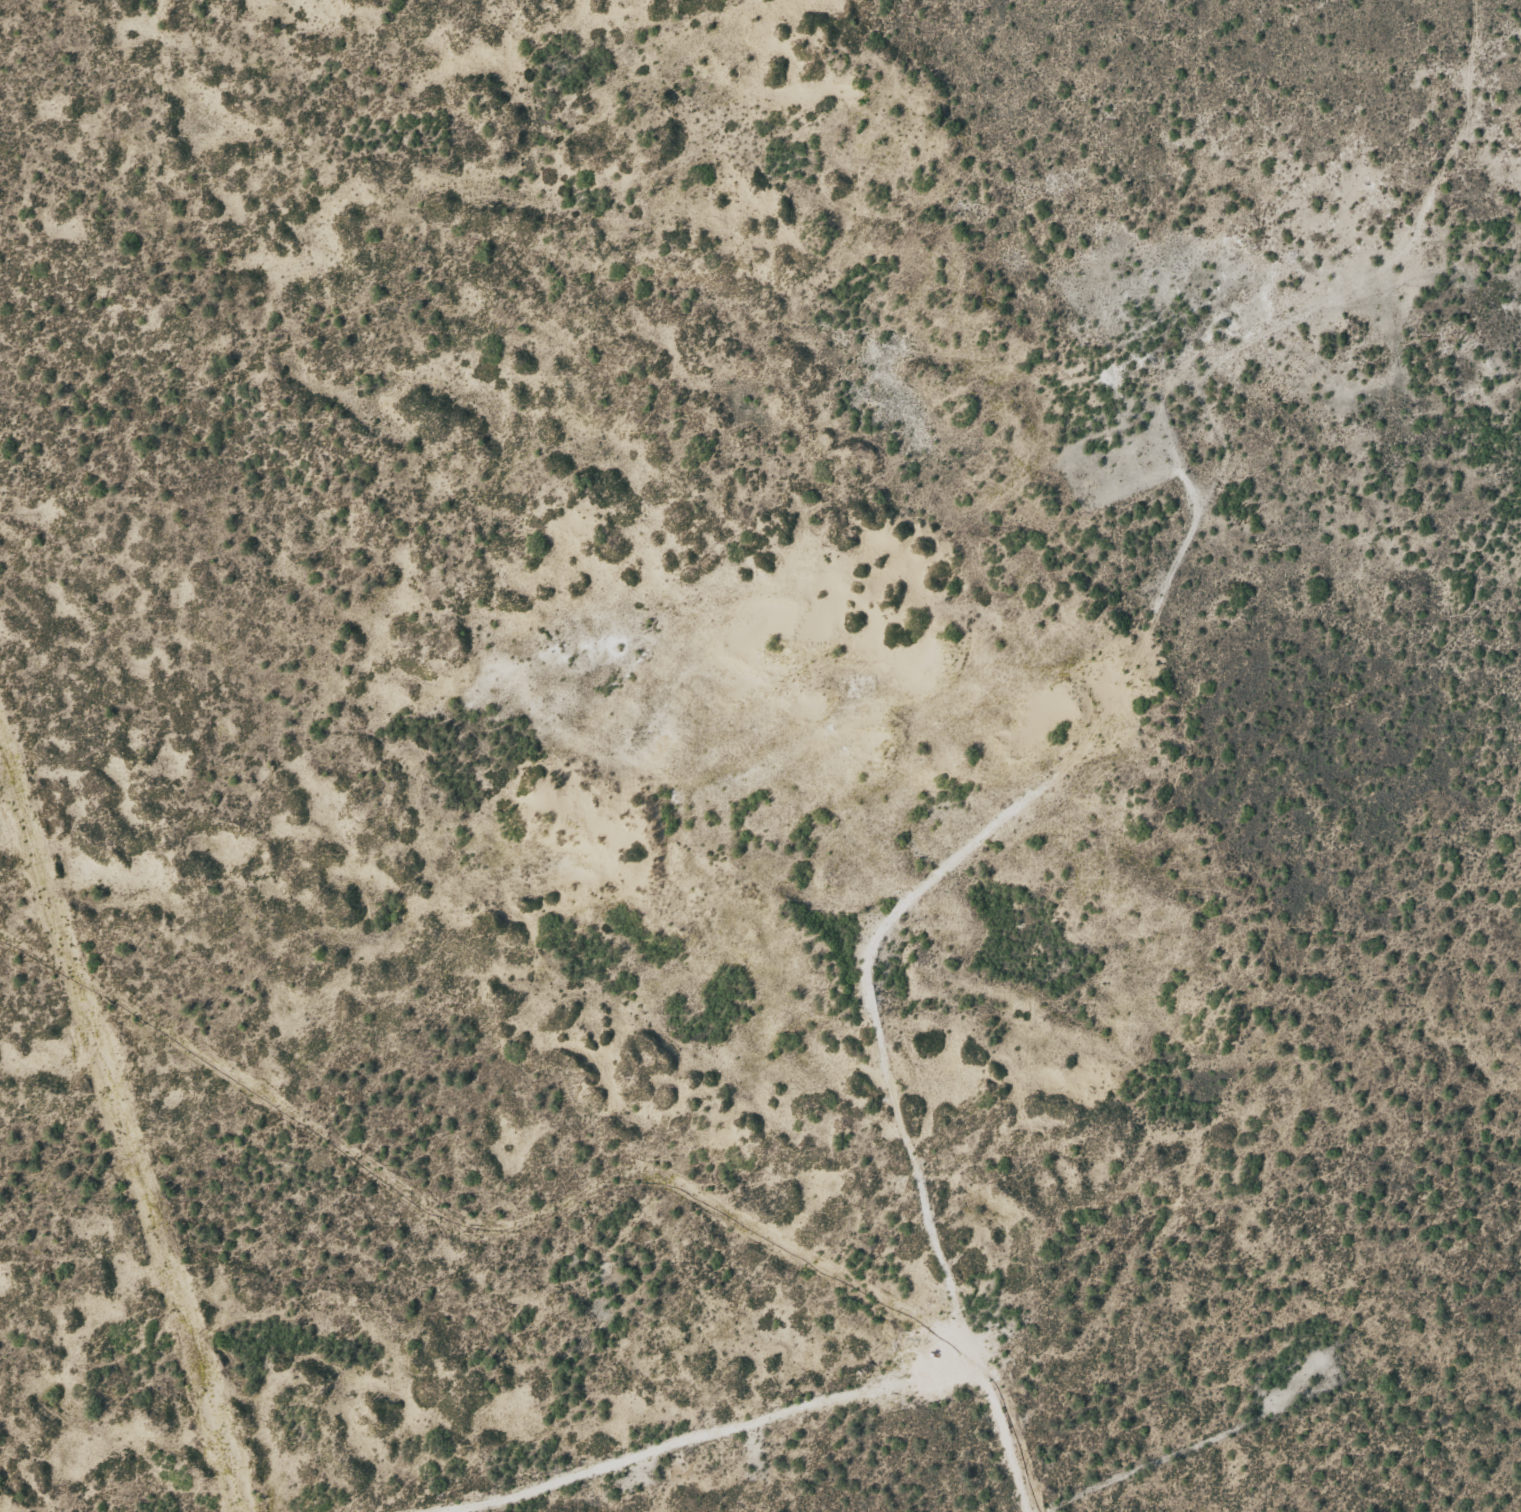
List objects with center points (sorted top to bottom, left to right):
road: (1053, 731)
road: (737, 1424)

